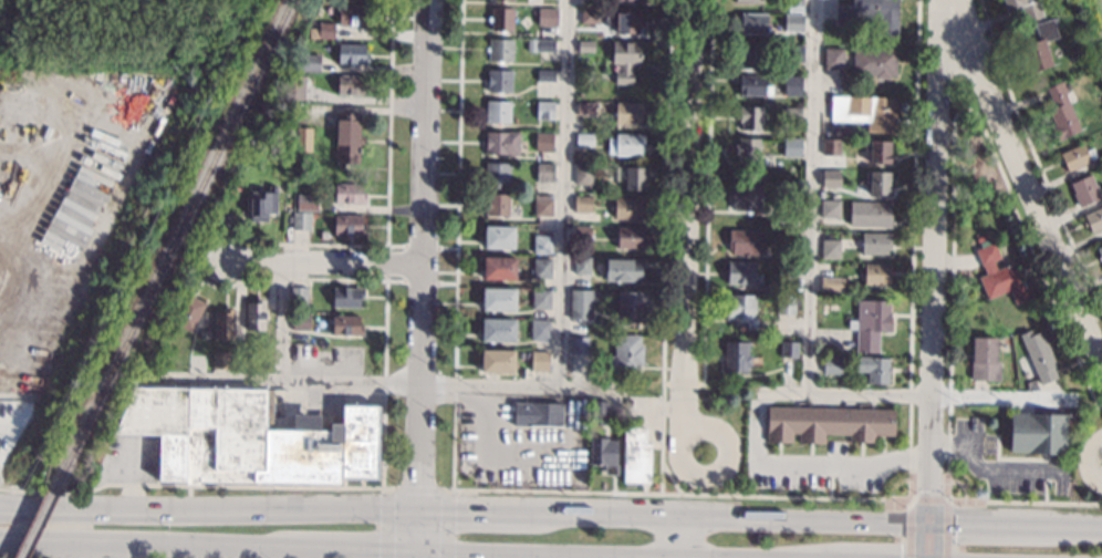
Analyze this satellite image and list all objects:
building: (511, 0)
building: (631, 0)
building: (750, 1)
road: (569, 2)
building: (793, 6)
building: (330, 7)
building: (1025, 8)
building: (353, 14)
building: (870, 14)
building: (590, 15)
building: (545, 17)
building: (501, 19)
building: (623, 20)
building: (793, 21)
building: (753, 22)
building: (326, 30)
road: (425, 40)
building: (545, 45)
building: (586, 46)
building: (1040, 46)
building: (500, 50)
building: (352, 53)
building: (793, 53)
building: (751, 55)
building: (833, 58)
building: (625, 60)
building: (308, 62)
building: (874, 62)
building: (545, 74)
building: (498, 81)
building: (752, 84)
building: (352, 85)
building: (793, 85)
building: (293, 87)
building: (585, 108)
building: (544, 110)
building: (498, 111)
building: (865, 111)
building: (628, 113)
building: (792, 113)
building: (1061, 113)
building: (750, 117)
building: (349, 137)
building: (303, 138)
building: (584, 138)
building: (543, 141)
building: (502, 142)
building: (626, 144)
building: (291, 145)
building: (831, 146)
building: (793, 147)
building: (748, 148)
building: (877, 151)
building: (1077, 156)
building: (543, 170)
building: (497, 174)
building: (584, 174)
building: (635, 177)
building: (830, 178)
road: (1027, 178)
building: (877, 182)
building: (1084, 190)
building: (350, 193)
road: (563, 196)
building: (746, 196)
road: (812, 197)
building: (306, 203)
building: (262, 204)
building: (583, 204)
building: (496, 205)
building: (543, 205)
building: (628, 208)
building: (830, 208)
road: (387, 211)
road: (689, 213)
building: (870, 214)
building: (1094, 219)
building: (301, 220)
building: (787, 220)
building: (226, 221)
building: (349, 225)
building: (582, 231)
building: (499, 237)
building: (630, 237)
building: (790, 237)
building: (980, 238)
building: (745, 241)
building: (875, 242)
building: (542, 244)
railway: (173, 245)
road: (405, 248)
building: (830, 248)
building: (1100, 252)
road: (320, 261)
building: (582, 265)
building: (500, 267)
building: (542, 268)
building: (623, 270)
building: (787, 270)
building: (741, 272)
building: (876, 273)
building: (999, 276)
road: (935, 279)
building: (832, 283)
building: (299, 296)
road: (420, 296)
building: (346, 297)
building: (582, 298)
building: (498, 299)
building: (541, 299)
building: (786, 302)
building: (631, 307)
building: (742, 309)
building: (188, 312)
building: (256, 314)
road: (283, 320)
building: (301, 321)
building: (225, 323)
building: (870, 323)
building: (346, 325)
building: (498, 330)
building: (540, 330)
building: (205, 334)
building: (579, 344)
building: (789, 349)
building: (626, 353)
building: (736, 355)
building: (1039, 355)
building: (220, 360)
building: (498, 360)
building: (540, 360)
building: (985, 361)
building: (832, 364)
building: (206, 365)
building: (263, 365)
building: (874, 369)
road: (357, 383)
road: (683, 383)
road: (907, 397)
road: (1100, 405)
building: (599, 412)
building: (539, 414)
building: (826, 423)
building: (1035, 431)
building: (227, 437)
road: (661, 438)
building: (360, 441)
building: (603, 454)
building: (635, 455)
road: (808, 467)
road: (989, 467)
road: (1091, 469)
road: (722, 476)
road: (670, 479)
traffic signals: (418, 484)
road: (384, 485)
road: (417, 489)
traffic signals: (931, 490)
building: (980, 494)
road: (680, 495)
road: (928, 499)
road: (1025, 500)
road: (38, 509)
traffic signals: (418, 513)
traffic signals: (456, 514)
road: (472, 514)
road: (38, 515)
road: (247, 515)
road: (635, 517)
railway: (37, 524)
road: (922, 524)
traffic signals: (929, 525)
traffic signals: (955, 525)
road: (417, 533)
road: (7, 538)
road: (678, 538)
road: (7, 540)
road: (345, 549)
traffic signals: (376, 550)
traffic signals: (417, 552)
road: (416, 555)
road: (22, 557)

